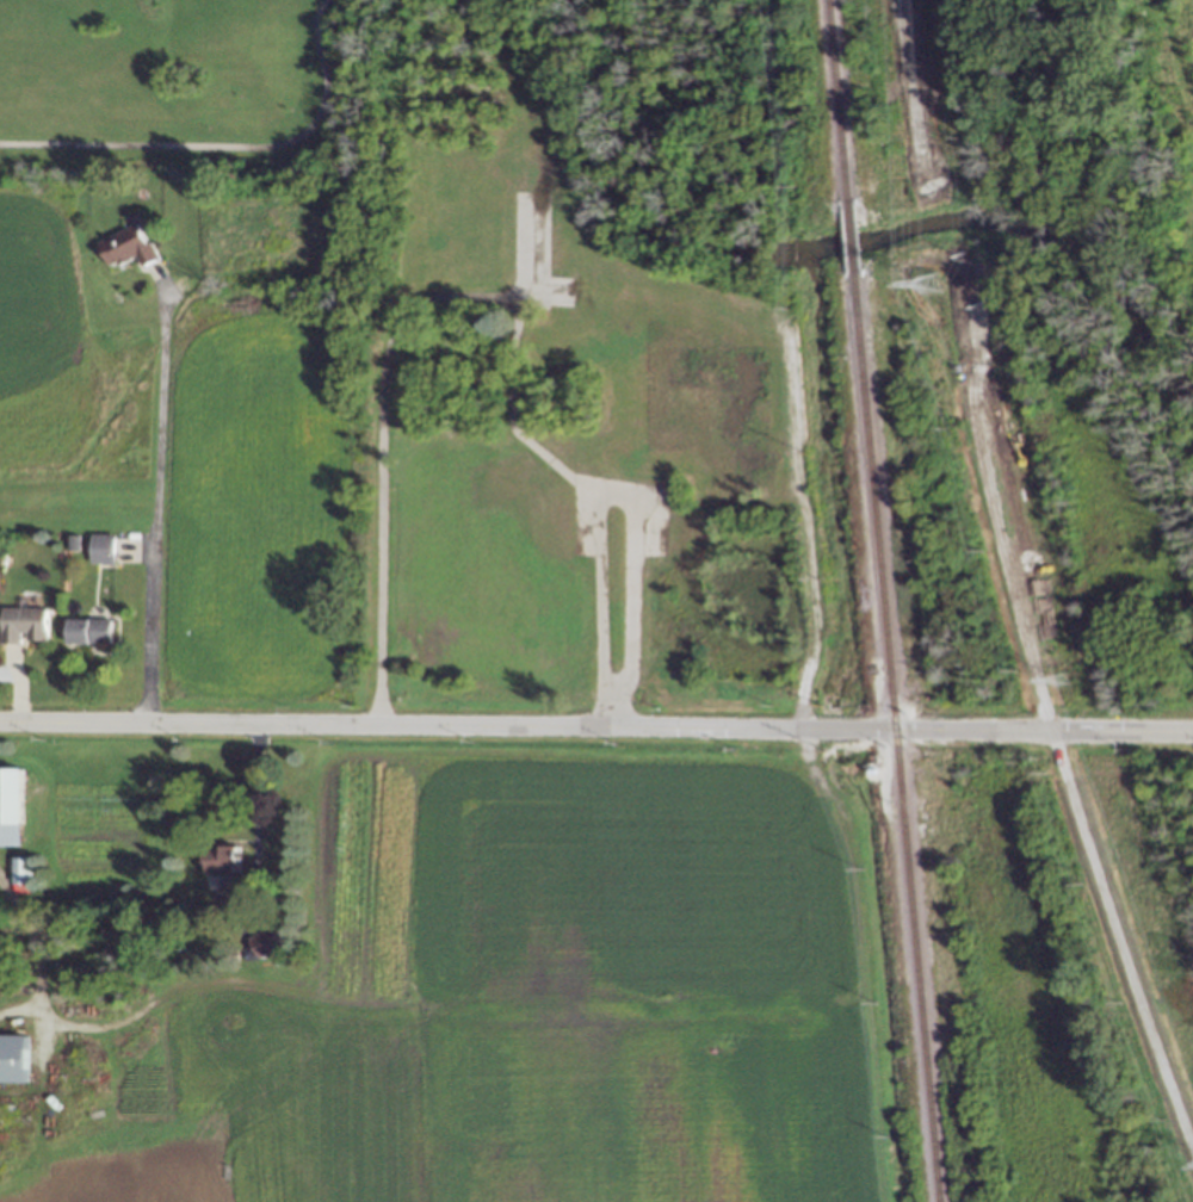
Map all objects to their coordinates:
building: (463, 29)
building: (463, 61)
park: (183, 78)
building: (463, 93)
railway: (836, 99)
building: (463, 124)
road: (223, 145)
building: (463, 155)
building: (104, 179)
building: (463, 187)
building: (462, 218)
building: (565, 231)
railway: (848, 235)
building: (130, 247)
river: (834, 254)
building: (463, 259)
park: (1104, 296)
building: (537, 324)
building: (667, 370)
building: (72, 541)
building: (103, 547)
road: (153, 554)
building: (2, 558)
building: (24, 622)
building: (89, 630)
road: (595, 727)
railway: (896, 736)
road: (259, 800)
building: (11, 806)
park: (1168, 831)
building: (223, 859)
building: (21, 869)
building: (267, 940)
crop: (496, 998)
park: (1034, 998)
building: (13, 1058)

